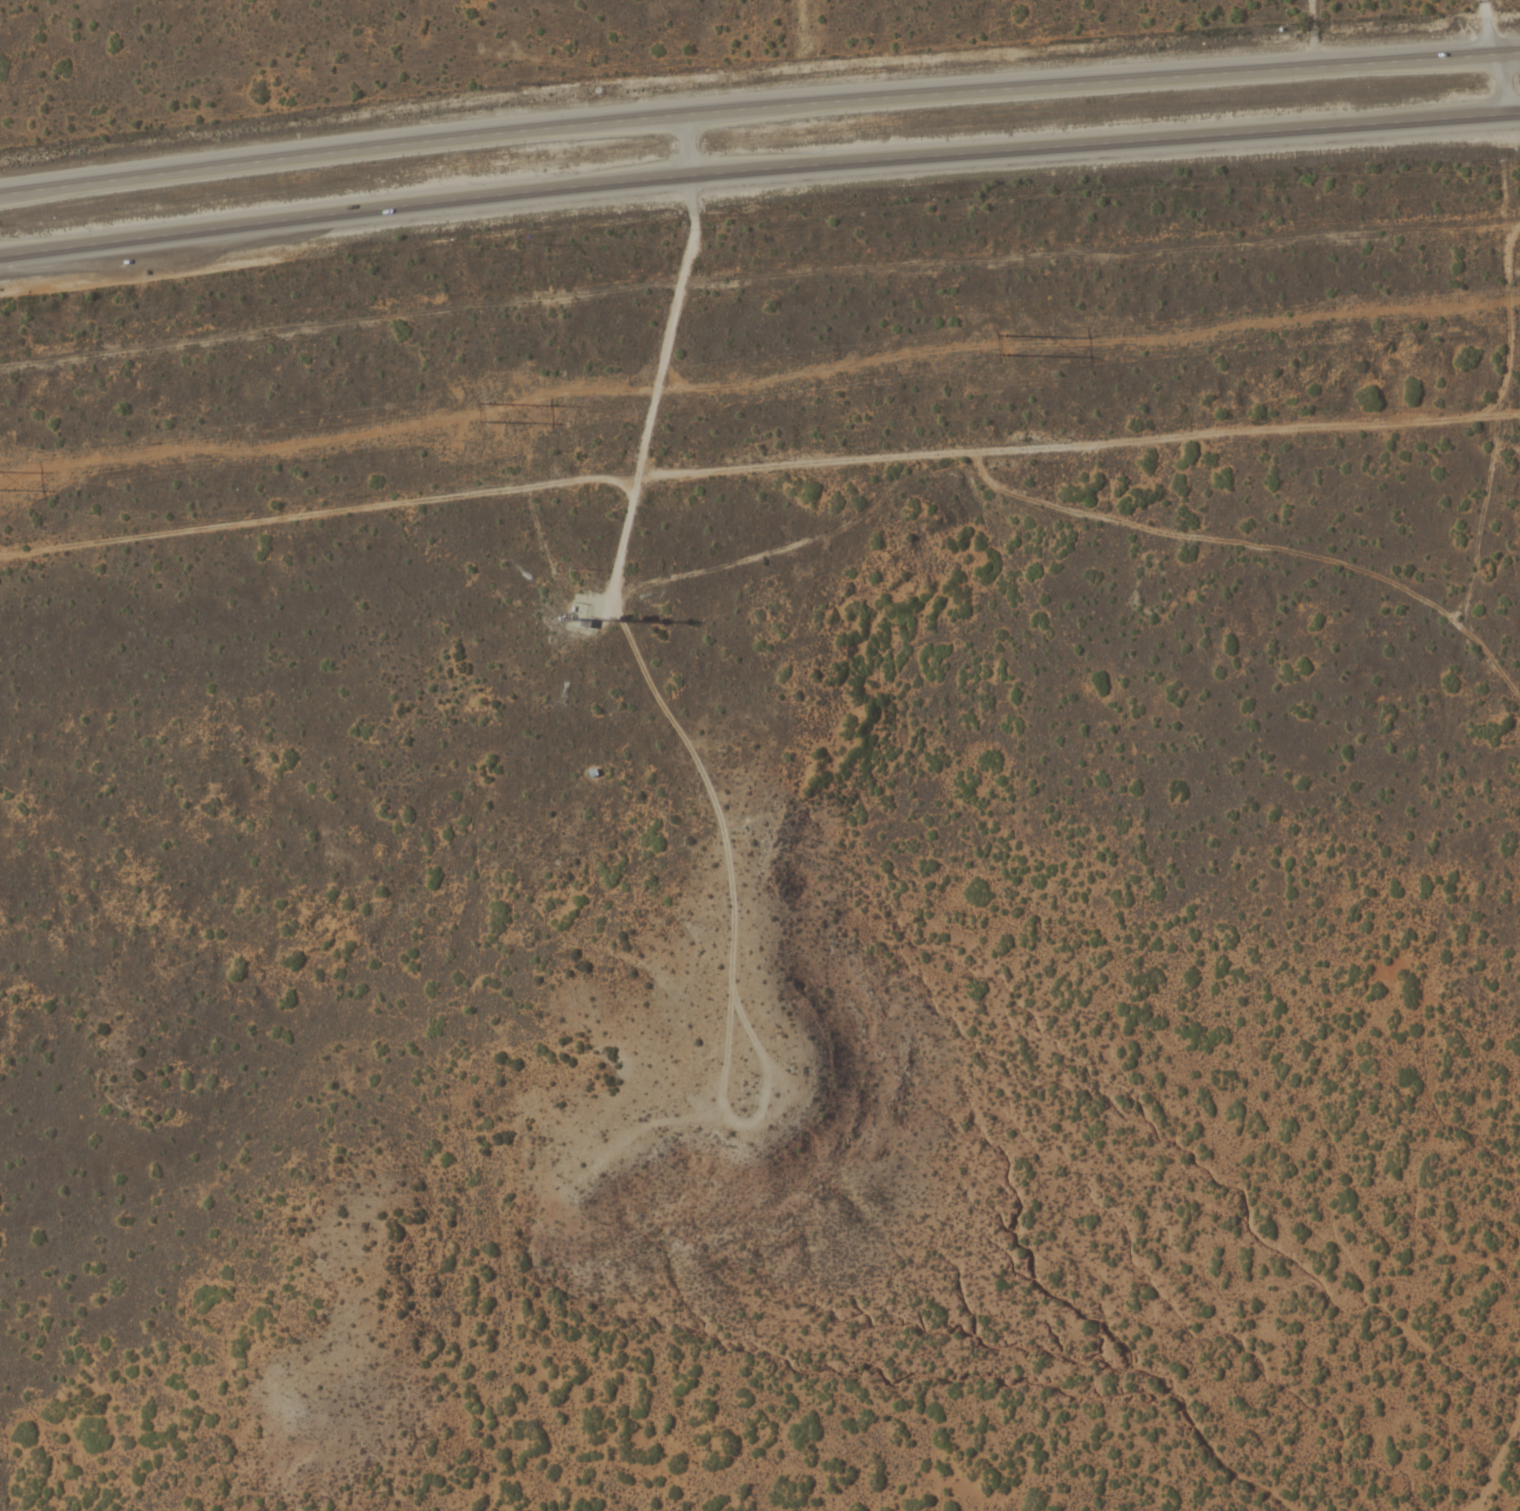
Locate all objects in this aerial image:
road: (1495, 26)
road: (1505, 82)
road: (758, 104)
road: (758, 165)
power tower: (1009, 350)
power tower: (488, 411)
road: (1498, 412)
road: (659, 692)

